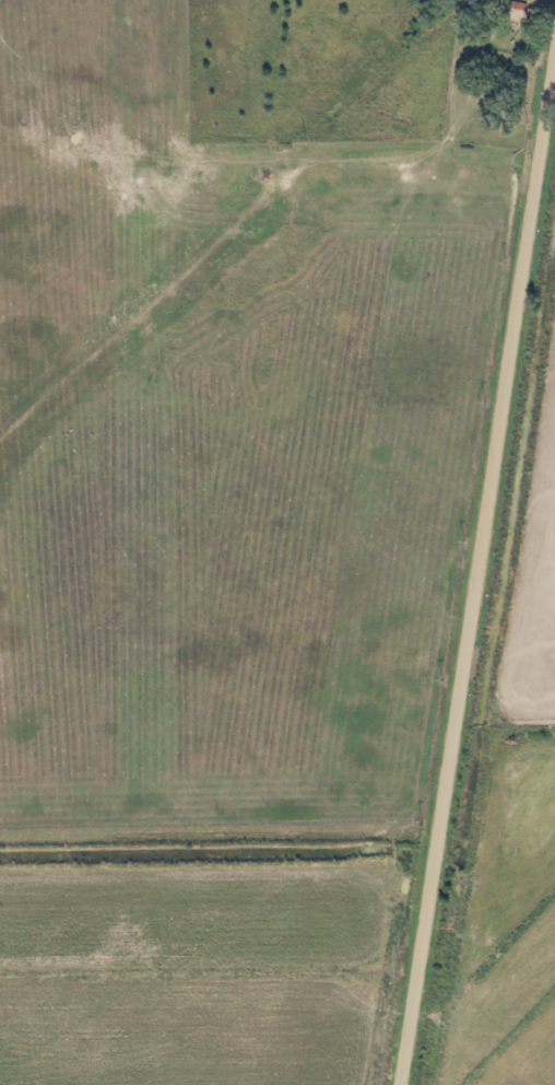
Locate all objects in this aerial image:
road: (237, 223)
road: (475, 586)

